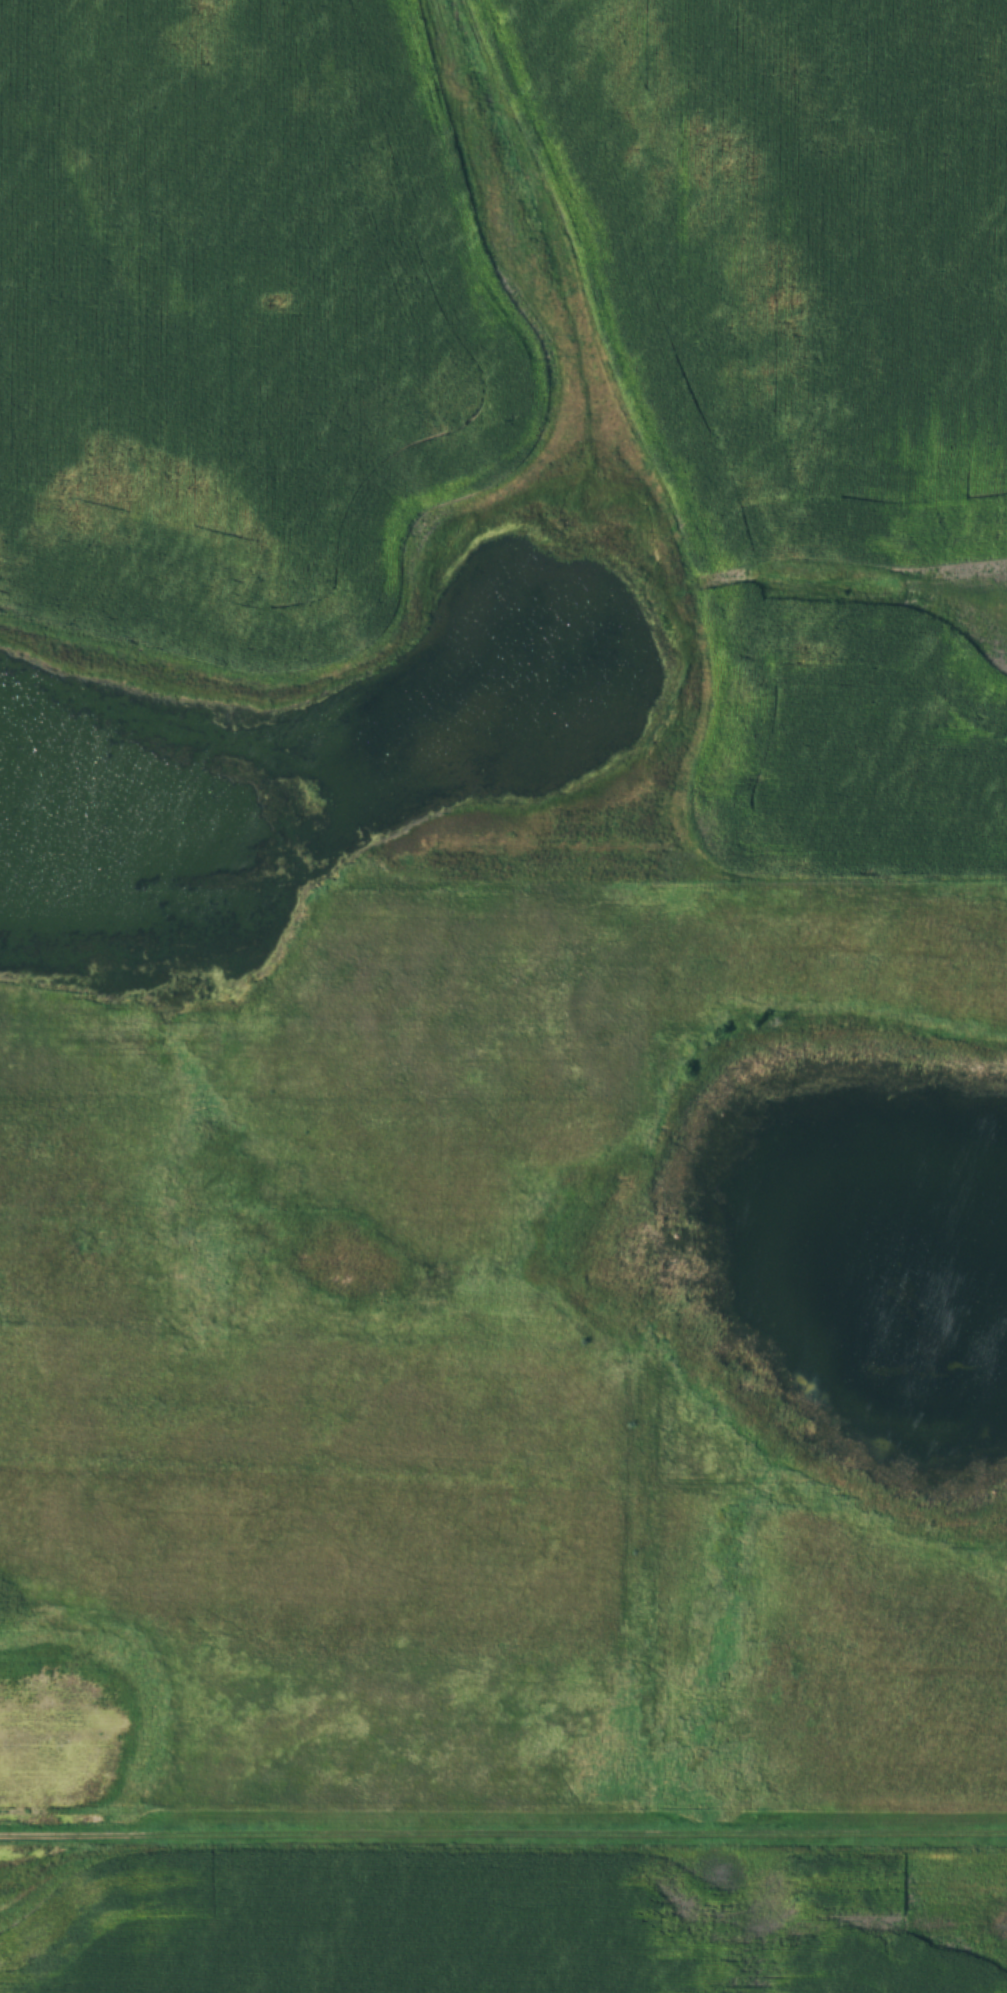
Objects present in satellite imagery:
road: (503, 1841)

